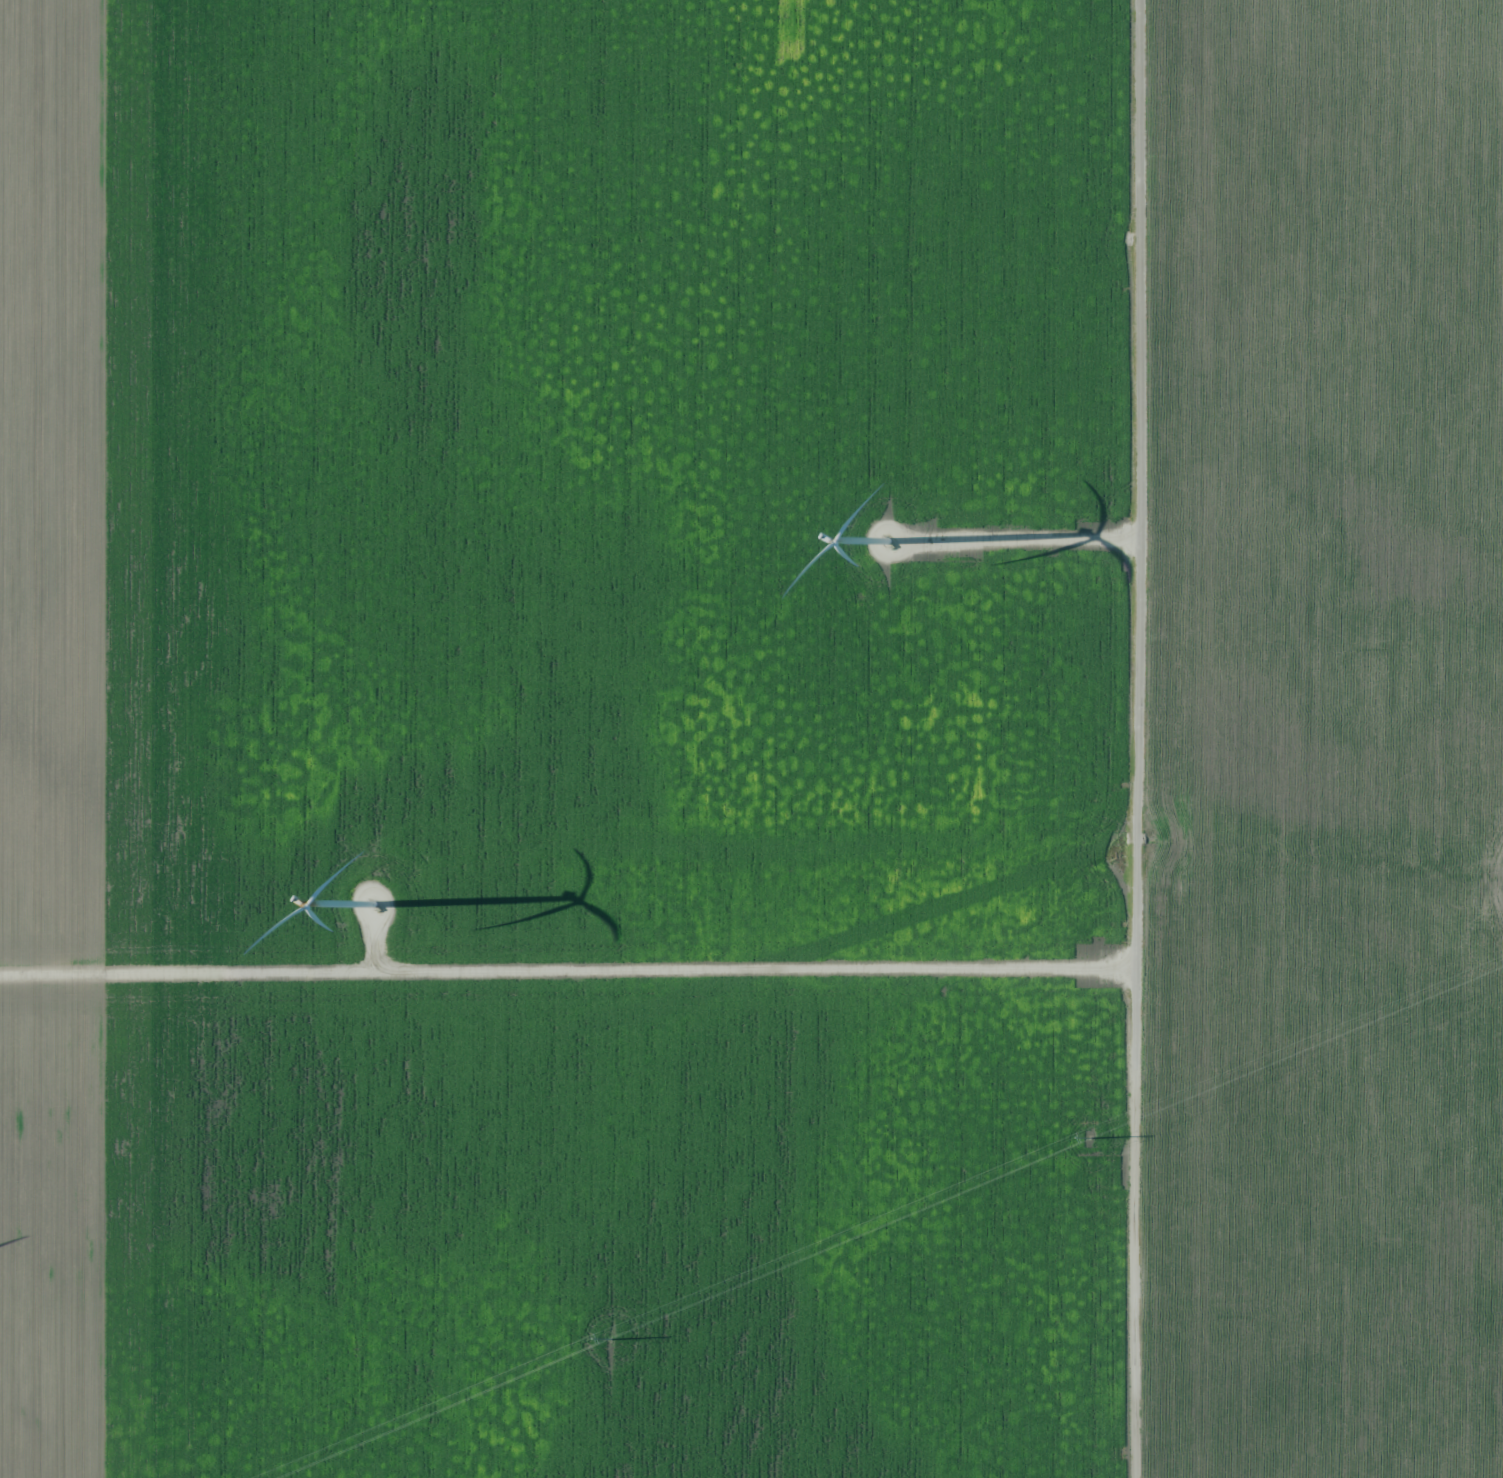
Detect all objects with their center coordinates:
wind turbine: (872, 541)
road: (1135, 739)
wind turbine: (368, 894)
power tower: (1088, 1139)
power tower: (608, 1339)

